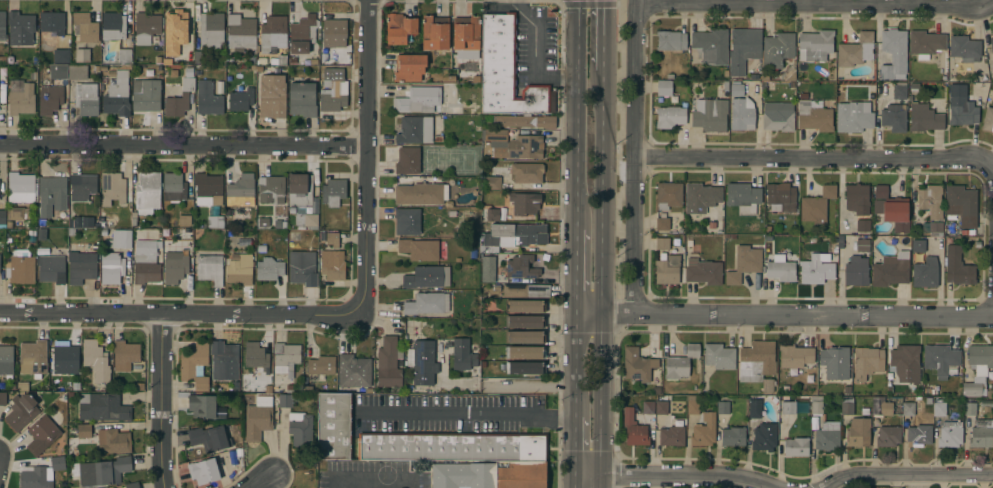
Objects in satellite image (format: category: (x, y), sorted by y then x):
road: (814, 3)
building: (52, 23)
building: (2, 25)
building: (113, 25)
building: (85, 27)
building: (146, 27)
building: (20, 28)
building: (400, 28)
building: (175, 31)
building: (212, 31)
building: (240, 31)
building: (334, 32)
building: (435, 32)
building: (272, 33)
building: (303, 33)
road: (602, 34)
building: (466, 35)
building: (671, 40)
building: (925, 43)
building: (991, 43)
building: (710, 45)
building: (815, 45)
building: (964, 47)
building: (743, 49)
building: (777, 49)
building: (855, 50)
building: (894, 54)
building: (82, 55)
building: (61, 56)
building: (124, 56)
road: (534, 56)
building: (200, 57)
building: (278, 59)
building: (3, 60)
building: (409, 67)
building: (58, 71)
building: (77, 71)
building: (506, 72)
building: (664, 87)
building: (332, 90)
building: (737, 90)
building: (899, 90)
building: (117, 94)
building: (146, 94)
building: (2, 96)
building: (272, 96)
building: (21, 97)
building: (86, 98)
building: (208, 98)
building: (302, 98)
building: (49, 99)
building: (179, 99)
building: (241, 99)
building: (419, 99)
building: (962, 111)
building: (742, 113)
road: (576, 114)
building: (710, 114)
building: (670, 116)
building: (778, 116)
building: (814, 116)
building: (853, 116)
building: (894, 117)
building: (924, 117)
building: (988, 119)
building: (515, 120)
building: (549, 122)
building: (415, 129)
building: (515, 142)
road: (182, 144)
road: (365, 156)
road: (633, 156)
road: (815, 157)
building: (408, 160)
building: (527, 172)
building: (492, 182)
building: (22, 187)
building: (83, 187)
building: (113, 187)
building: (174, 187)
building: (270, 188)
building: (208, 189)
building: (241, 190)
building: (147, 192)
building: (333, 192)
building: (419, 193)
building: (52, 195)
building: (669, 195)
building: (701, 197)
building: (743, 197)
building: (781, 197)
building: (857, 198)
building: (302, 200)
building: (524, 202)
building: (817, 205)
building: (931, 205)
building: (961, 205)
building: (892, 209)
building: (495, 214)
building: (17, 215)
building: (2, 218)
building: (102, 218)
building: (185, 220)
building: (407, 220)
building: (263, 223)
building: (662, 223)
building: (278, 224)
building: (863, 225)
building: (512, 235)
building: (332, 238)
building: (119, 239)
building: (662, 243)
building: (862, 245)
building: (918, 245)
building: (419, 249)
building: (146, 262)
building: (744, 263)
building: (175, 264)
building: (81, 266)
building: (112, 267)
building: (333, 267)
building: (521, 267)
building: (958, 267)
building: (22, 268)
building: (210, 268)
building: (240, 268)
building: (269, 268)
building: (302, 268)
building: (52, 269)
building: (488, 269)
building: (891, 269)
building: (667, 270)
building: (781, 270)
building: (815, 270)
road: (576, 271)
building: (703, 271)
building: (856, 271)
building: (925, 272)
building: (427, 276)
road: (602, 278)
building: (526, 290)
building: (427, 303)
building: (525, 306)
road: (178, 313)
road: (783, 314)
building: (525, 321)
building: (525, 336)
building: (525, 352)
building: (464, 353)
building: (125, 354)
building: (64, 356)
building: (718, 356)
building: (795, 356)
building: (285, 357)
building: (33, 358)
building: (6, 359)
building: (941, 359)
building: (96, 360)
building: (225, 360)
building: (255, 360)
building: (757, 360)
building: (388, 362)
building: (423, 362)
building: (681, 362)
building: (835, 362)
building: (867, 362)
building: (906, 362)
road: (575, 364)
building: (637, 364)
building: (195, 365)
building: (321, 365)
building: (525, 367)
building: (978, 369)
building: (354, 370)
road: (509, 384)
building: (768, 385)
building: (3, 398)
road: (160, 400)
building: (285, 400)
building: (816, 404)
building: (202, 405)
building: (692, 405)
building: (847, 405)
building: (911, 405)
building: (102, 406)
building: (880, 406)
building: (648, 407)
building: (661, 407)
building: (723, 407)
building: (788, 407)
building: (755, 408)
building: (938, 408)
building: (970, 408)
building: (21, 411)
road: (467, 413)
building: (258, 418)
building: (334, 425)
building: (300, 428)
building: (634, 429)
building: (83, 430)
building: (704, 430)
building: (858, 431)
building: (950, 433)
building: (981, 433)
building: (918, 434)
building: (42, 435)
building: (671, 435)
building: (888, 435)
building: (733, 436)
building: (764, 436)
building: (827, 436)
building: (209, 437)
building: (113, 441)
building: (452, 446)
building: (796, 446)
road: (579, 448)
building: (224, 459)
building: (104, 471)
building: (204, 471)
building: (40, 474)
building: (490, 474)
road: (909, 475)
road: (371, 477)
road: (675, 478)
road: (262, 481)
road: (582, 484)
building: (132, 485)

